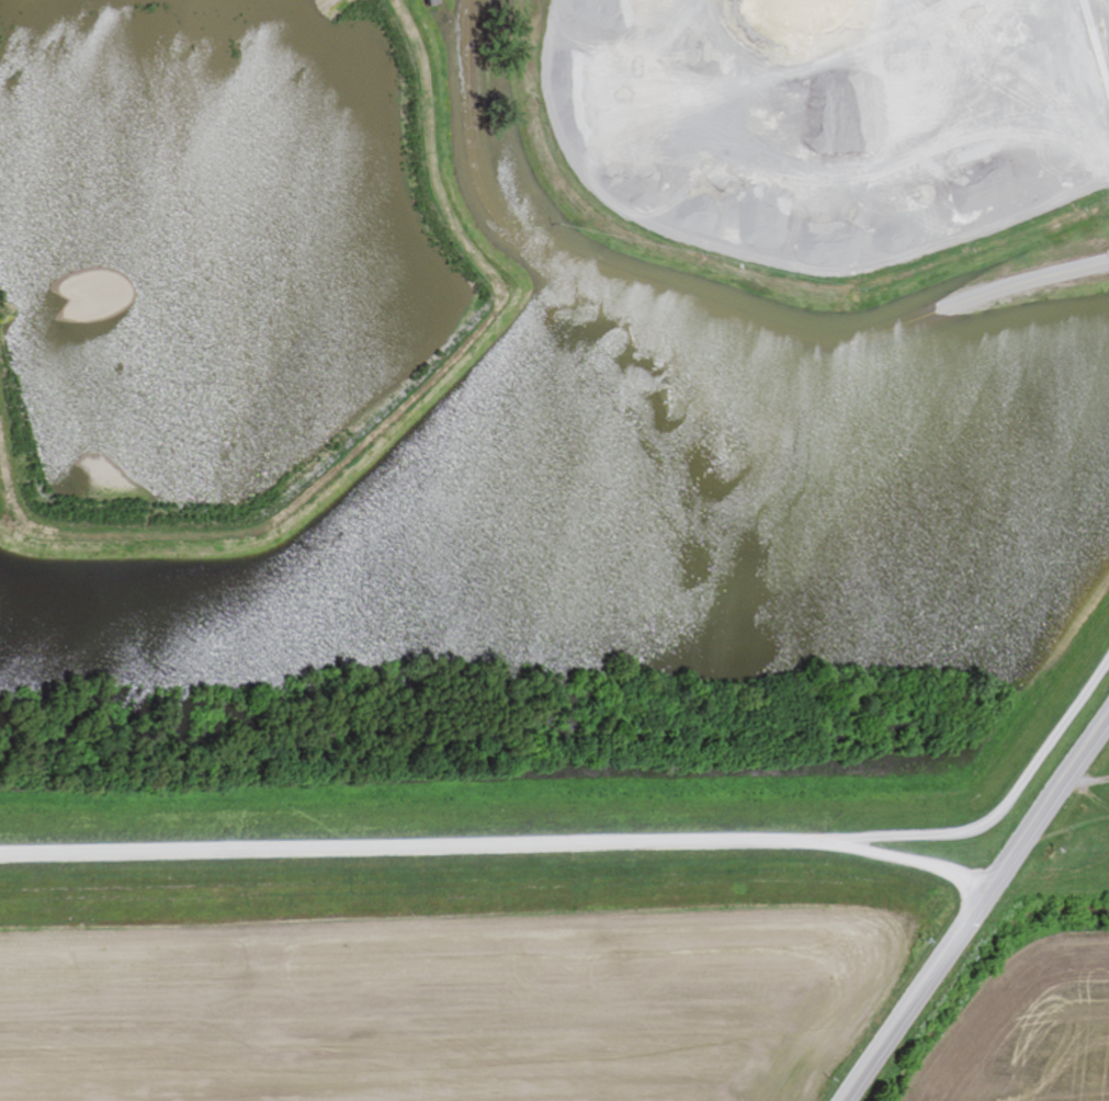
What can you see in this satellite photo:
road: (694, 300)
road: (344, 525)
road: (1050, 741)
road: (921, 832)
road: (427, 848)
road: (921, 862)
road: (976, 907)

